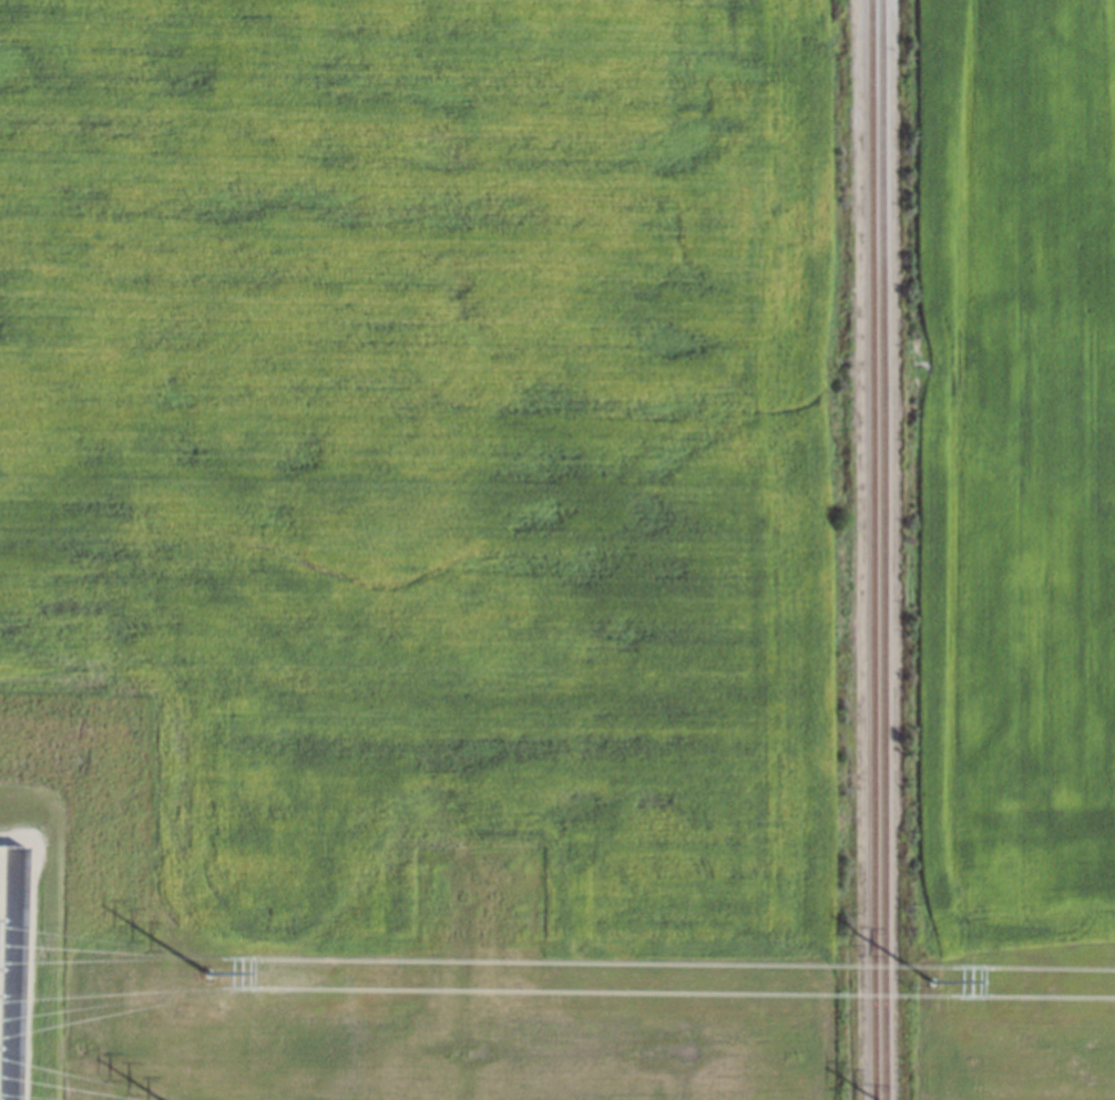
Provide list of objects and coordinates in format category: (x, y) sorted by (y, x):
crop: (1011, 477)
railway: (872, 549)
railway: (882, 549)
road: (29, 946)
power substation: (10, 962)
power tower: (209, 965)
power tower: (935, 970)

